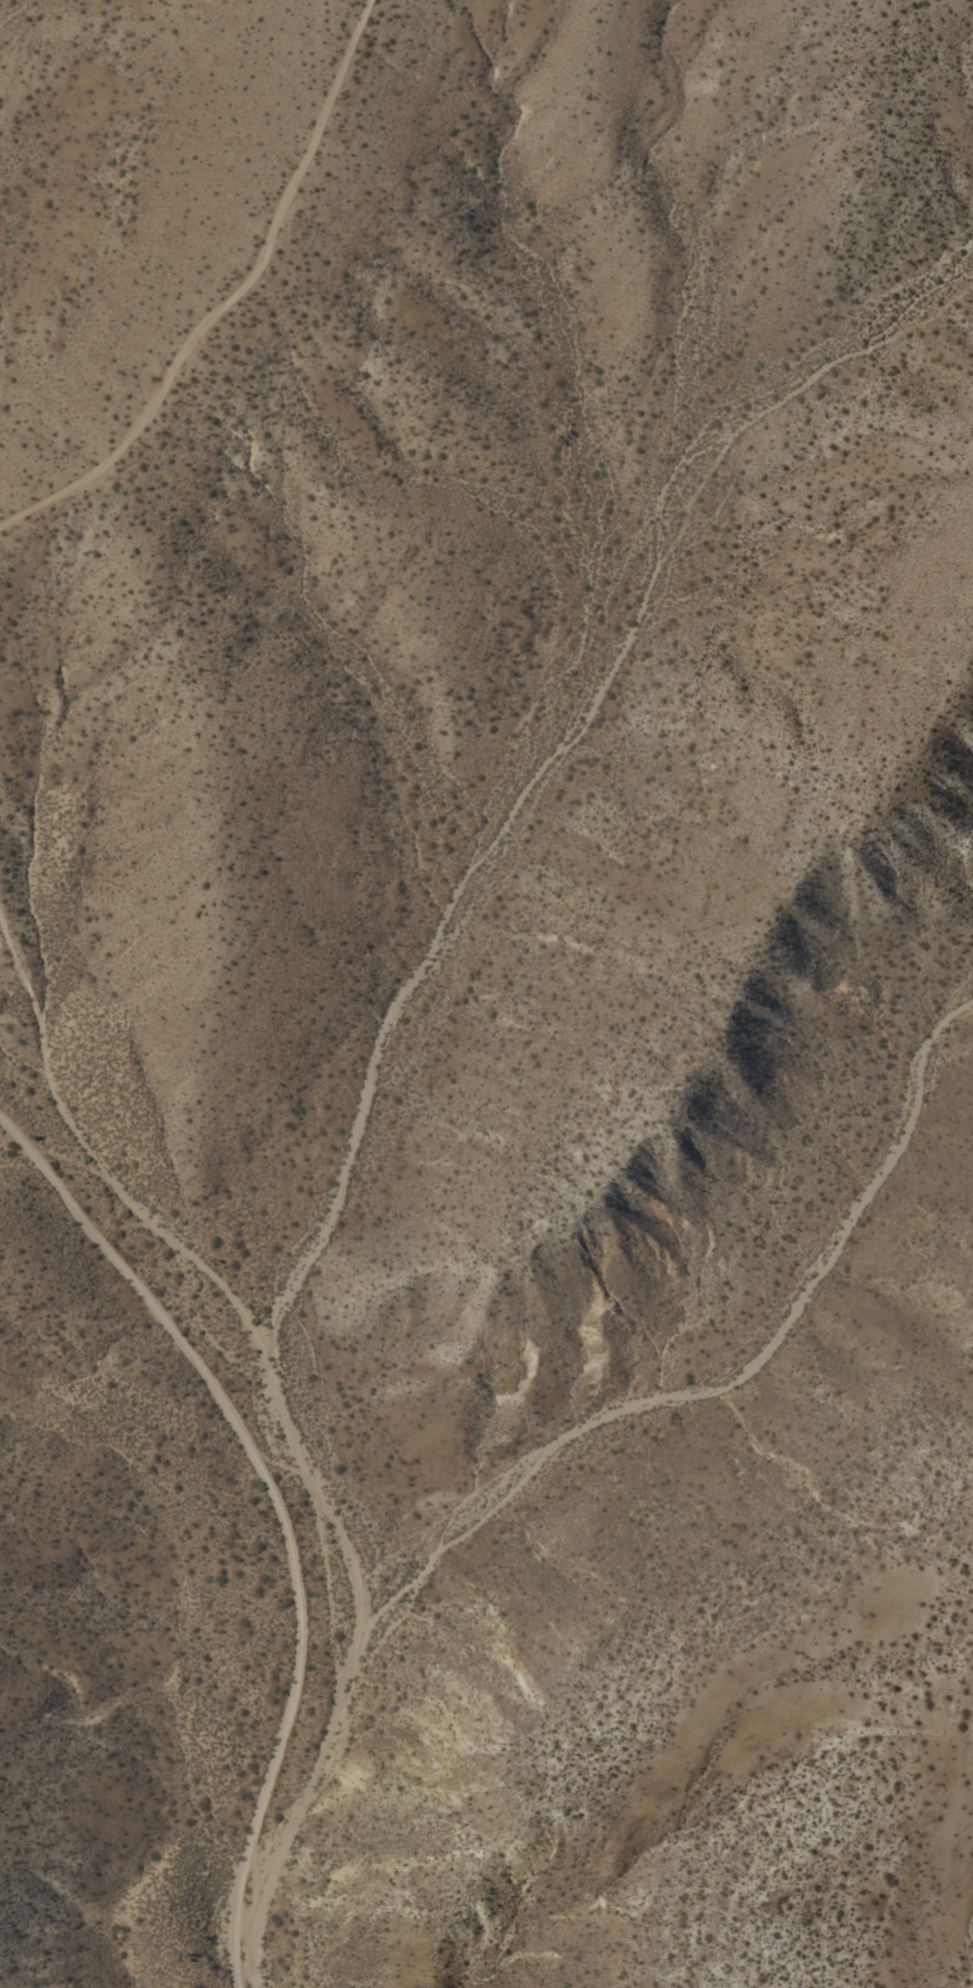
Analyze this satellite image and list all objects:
road: (231, 298)
road: (286, 1423)

